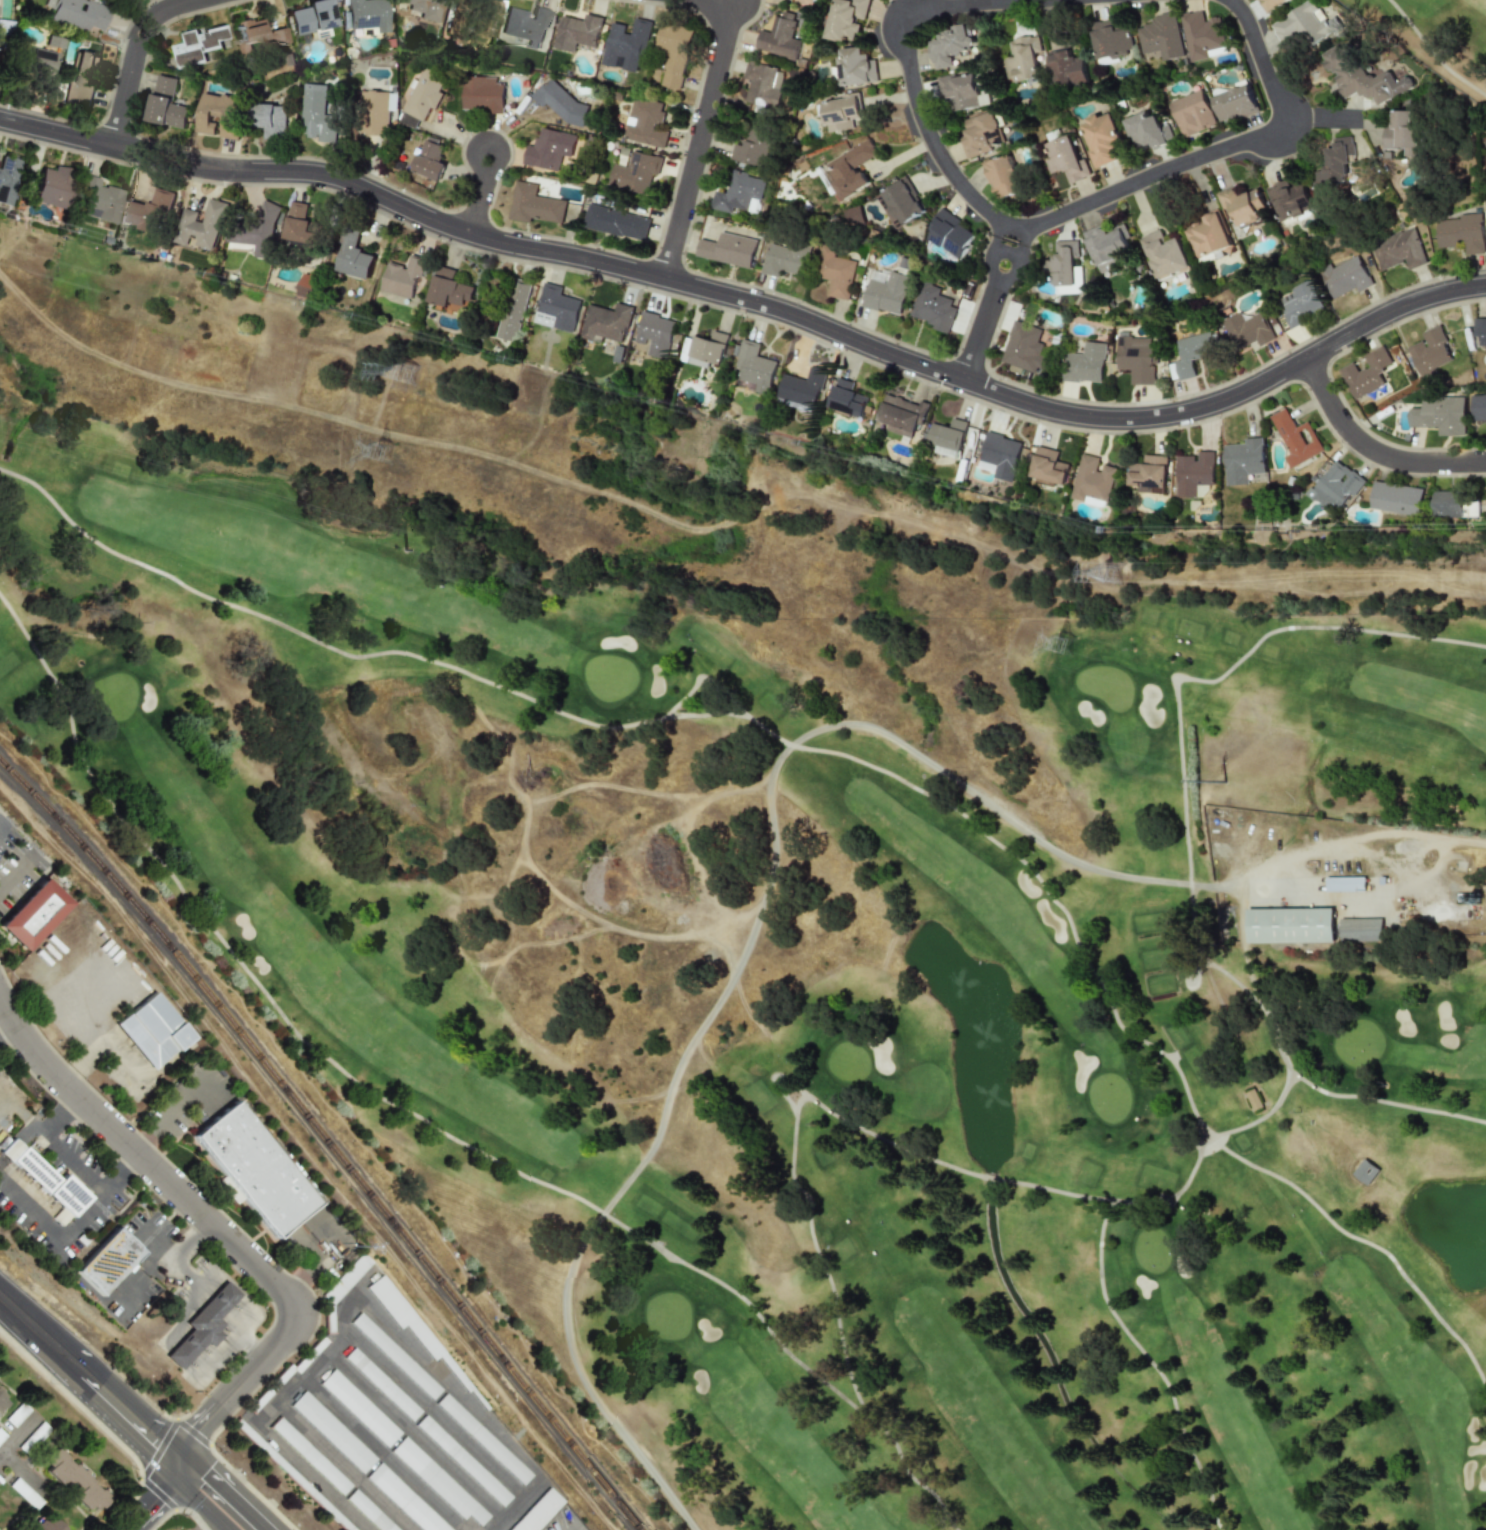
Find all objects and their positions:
building: (789, 0)
building: (1271, 4)
building: (424, 8)
building: (77, 13)
building: (489, 13)
building: (367, 14)
building: (312, 17)
building: (846, 19)
building: (1304, 24)
building: (526, 25)
building: (577, 32)
building: (249, 34)
building: (779, 36)
building: (1160, 36)
building: (1203, 36)
park: (1435, 36)
building: (277, 37)
building: (1109, 40)
building: (197, 45)
building: (626, 45)
building: (948, 46)
road: (139, 49)
building: (673, 56)
road: (907, 56)
building: (1021, 59)
building: (40, 60)
building: (855, 67)
building: (1065, 69)
building: (1362, 76)
building: (81, 78)
building: (763, 85)
building: (962, 91)
building: (481, 94)
building: (425, 95)
building: (561, 103)
building: (1235, 103)
building: (165, 104)
street lamp: (1, 105)
building: (374, 113)
building: (1191, 113)
building: (839, 114)
building: (219, 115)
building: (317, 115)
building: (272, 121)
road: (1321, 121)
street lamp: (98, 122)
building: (645, 123)
building: (1146, 131)
road: (702, 133)
building: (979, 134)
building: (1402, 134)
street lamp: (472, 135)
building: (1100, 138)
street lamp: (36, 142)
building: (753, 145)
street lamp: (190, 148)
building: (549, 149)
road: (1220, 150)
building: (1065, 160)
building: (428, 161)
building: (1335, 165)
street lamp: (138, 167)
street lamp: (512, 168)
building: (850, 169)
building: (635, 172)
building: (1002, 177)
building: (8, 178)
building: (53, 186)
street lamp: (239, 188)
building: (740, 194)
road: (480, 198)
building: (1290, 200)
building: (98, 201)
building: (900, 204)
building: (1241, 204)
building: (533, 205)
building: (148, 212)
building: (854, 217)
street lamp: (492, 220)
building: (616, 222)
building: (202, 225)
building: (302, 227)
building: (257, 230)
building: (1461, 233)
building: (950, 234)
road: (1015, 236)
building: (1206, 236)
street lamp: (443, 241)
building: (1107, 246)
building: (727, 249)
building: (1398, 250)
building: (353, 256)
building: (1164, 256)
building: (784, 259)
building: (1063, 263)
street lamp: (544, 267)
building: (834, 272)
building: (402, 277)
building: (1344, 277)
street lamp: (1441, 279)
building: (307, 284)
building: (449, 289)
street lamp: (646, 290)
building: (884, 291)
road: (754, 302)
street lamp: (804, 303)
building: (1298, 303)
building: (932, 307)
building: (513, 309)
building: (556, 309)
road: (988, 312)
street lamp: (746, 315)
building: (606, 322)
street lamp: (1342, 323)
street lamp: (1392, 328)
building: (1246, 330)
building: (1480, 332)
building: (654, 334)
street lamp: (901, 343)
building: (1024, 348)
building: (705, 349)
street lamp: (842, 350)
building: (1430, 352)
building: (1191, 353)
building: (1135, 359)
building: (1085, 363)
building: (755, 367)
street lamp: (1331, 367)
street lamp: (1253, 370)
building: (1366, 373)
power tower: (410, 374)
street lamp: (1004, 380)
building: (803, 387)
building: (845, 398)
street lamp: (1172, 400)
street lamp: (1089, 403)
building: (1479, 407)
building: (901, 415)
building: (1440, 415)
street lamp: (1222, 417)
street lamp: (1038, 423)
road: (368, 428)
building: (946, 438)
building: (1296, 439)
road: (1373, 450)
power tower: (387, 456)
building: (1000, 456)
building: (1243, 461)
building: (1047, 466)
building: (1193, 473)
building: (1149, 474)
building: (1092, 479)
building: (1335, 486)
building: (1395, 498)
building: (1453, 505)
road: (1044, 572)
power tower: (1113, 574)
road: (313, 640)
power tower: (1066, 645)
road: (1196, 680)
road: (670, 709)
road: (651, 792)
road: (767, 802)
road: (524, 825)
road: (13, 841)
building: (1382, 880)
building: (1345, 884)
road: (1417, 885)
road: (503, 886)
building: (1464, 897)
road: (710, 904)
park: (802, 907)
road: (744, 915)
building: (39, 916)
road: (1472, 922)
building: (1290, 925)
building: (1360, 929)
road: (530, 943)
road: (496, 973)
road: (1187, 987)
road: (72, 1013)
road: (7, 1030)
building: (159, 1031)
road: (1139, 1040)
road: (92, 1057)
road: (129, 1067)
road: (1287, 1079)
road: (1312, 1087)
road: (180, 1108)
road: (423, 1119)
road: (33, 1131)
railway: (326, 1139)
road: (1203, 1147)
road: (77, 1164)
building: (252, 1169)
building: (1364, 1171)
road: (967, 1173)
building: (46, 1180)
road: (124, 1209)
road: (166, 1223)
road: (214, 1226)
road: (331, 1232)
road: (318, 1236)
road: (59, 1237)
road: (175, 1253)
building: (112, 1262)
road: (318, 1267)
road: (146, 1276)
building: (346, 1278)
road: (357, 1288)
road: (219, 1308)
building: (328, 1318)
building: (203, 1323)
building: (413, 1327)
building: (308, 1355)
building: (394, 1355)
road: (90, 1382)
building: (382, 1383)
street lamp: (48, 1385)
building: (270, 1388)
building: (0, 1396)
building: (1, 1403)
building: (359, 1408)
building: (15, 1414)
road: (435, 1419)
traffic signals: (204, 1428)
building: (332, 1432)
building: (1, 1436)
road: (18, 1436)
building: (31, 1438)
road: (415, 1438)
building: (483, 1439)
traffic signals: (154, 1441)
parking lot: (22, 1454)
road: (386, 1454)
building: (310, 1456)
building: (463, 1460)
road: (343, 1466)
road: (22, 1474)
traffic signals: (211, 1474)
parking lot: (0, 1475)
building: (291, 1475)
building: (72, 1480)
building: (438, 1482)
road: (229, 1491)
building: (22, 1493)
building: (404, 1499)
road: (159, 1500)
road: (200, 1501)
traffic signals: (157, 1504)
building: (369, 1511)
building: (537, 1511)
building: (42, 1524)
building: (25, 1529)

